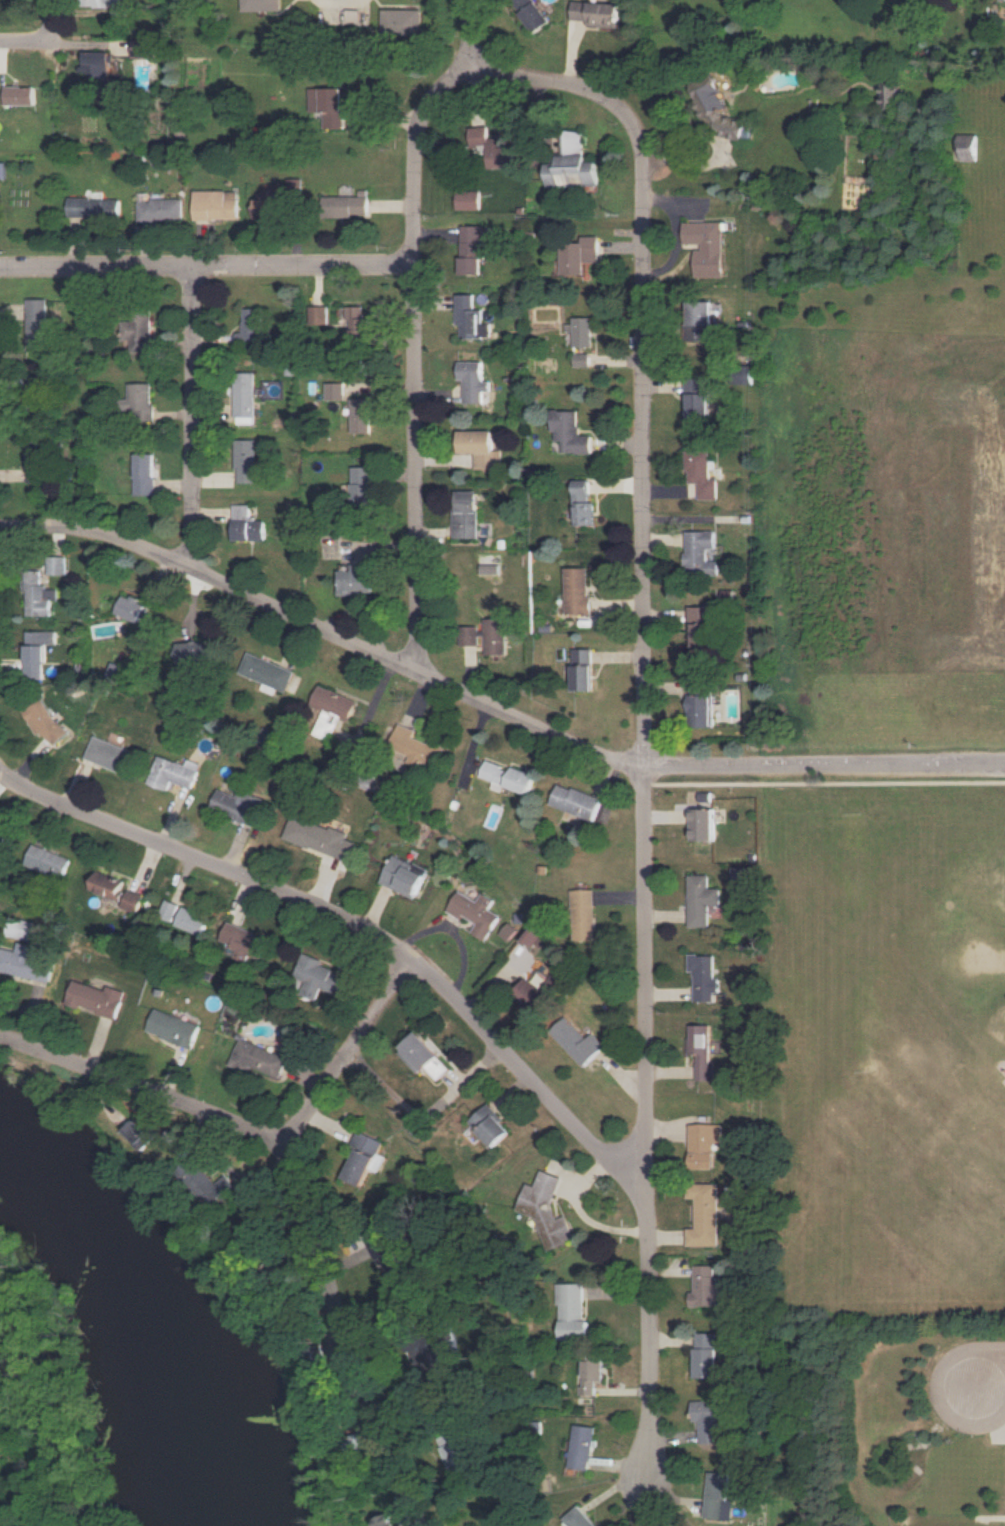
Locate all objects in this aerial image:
building: (1002, 0)
building: (108, 5)
building: (261, 5)
building: (531, 13)
building: (597, 13)
road: (55, 18)
building: (402, 22)
road: (474, 36)
road: (25, 38)
building: (142, 48)
building: (98, 63)
building: (20, 95)
building: (890, 95)
building: (328, 105)
building: (716, 107)
building: (967, 147)
building: (494, 148)
building: (572, 164)
building: (293, 186)
building: (467, 199)
building: (215, 204)
building: (346, 205)
building: (92, 206)
building: (264, 208)
building: (159, 209)
building: (706, 247)
building: (472, 248)
building: (579, 254)
road: (206, 268)
building: (318, 314)
building: (471, 318)
building: (700, 320)
building: (357, 322)
building: (38, 325)
building: (251, 326)
building: (138, 331)
building: (583, 331)
road: (415, 359)
building: (582, 360)
building: (743, 373)
building: (473, 380)
building: (334, 390)
building: (245, 397)
building: (699, 397)
building: (140, 400)
building: (361, 415)
road: (196, 418)
building: (571, 432)
building: (480, 448)
building: (247, 461)
building: (35, 464)
building: (145, 473)
building: (702, 473)
building: (362, 486)
building: (584, 503)
building: (466, 514)
building: (247, 524)
building: (701, 553)
building: (57, 564)
building: (356, 580)
building: (578, 590)
building: (39, 595)
building: (131, 607)
building: (700, 624)
building: (470, 635)
building: (496, 636)
building: (38, 652)
building: (194, 654)
building: (583, 669)
building: (117, 672)
building: (268, 672)
road: (491, 701)
building: (701, 702)
building: (333, 710)
building: (42, 717)
road: (646, 728)
building: (416, 747)
building: (108, 753)
building: (174, 772)
building: (509, 776)
building: (576, 801)
building: (240, 805)
building: (703, 824)
building: (2, 837)
building: (321, 837)
building: (49, 861)
building: (405, 875)
building: (109, 885)
building: (702, 899)
building: (134, 901)
building: (170, 910)
building: (476, 912)
building: (584, 914)
building: (194, 921)
road: (359, 925)
building: (508, 931)
building: (536, 936)
building: (245, 942)
building: (26, 962)
building: (705, 976)
building: (322, 978)
building: (538, 991)
building: (97, 998)
building: (175, 1027)
building: (580, 1041)
building: (702, 1049)
road: (352, 1056)
building: (425, 1056)
building: (259, 1058)
road: (145, 1091)
building: (493, 1125)
building: (143, 1133)
building: (705, 1144)
building: (365, 1157)
building: (212, 1183)
building: (549, 1210)
building: (706, 1214)
building: (391, 1259)
building: (707, 1287)
building: (574, 1311)
river: (159, 1312)
road: (352, 1339)
building: (706, 1354)
building: (440, 1357)
building: (592, 1375)
road: (939, 1387)
building: (709, 1421)
building: (582, 1446)
building: (458, 1452)
building: (719, 1496)
building: (579, 1518)
building: (387, 1520)

